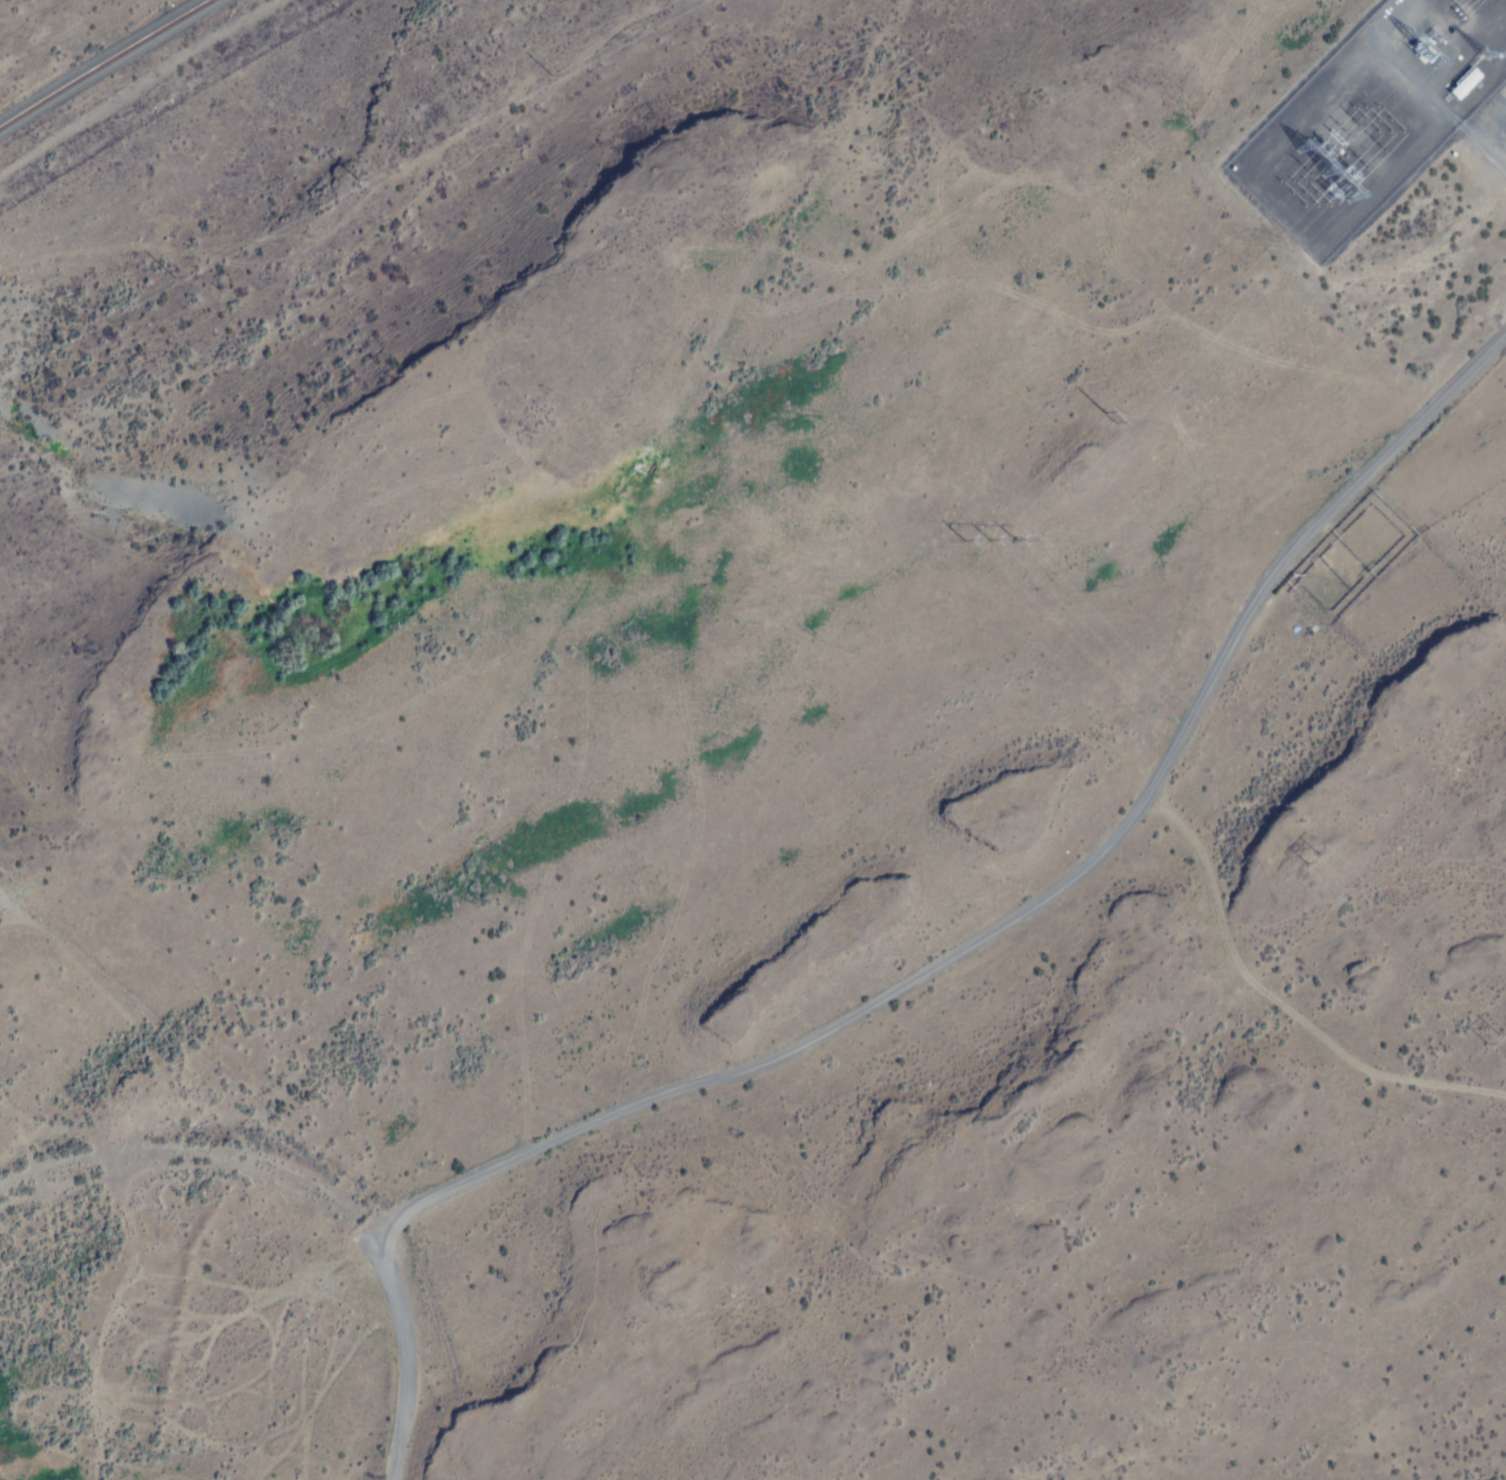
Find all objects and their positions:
railway: (103, 62)
power substation: (1370, 117)
road: (1504, 157)
road: (353, 278)
power tower: (1109, 419)
power tower: (981, 540)
power tower: (1308, 859)
road: (947, 972)
power tower: (1488, 1038)

